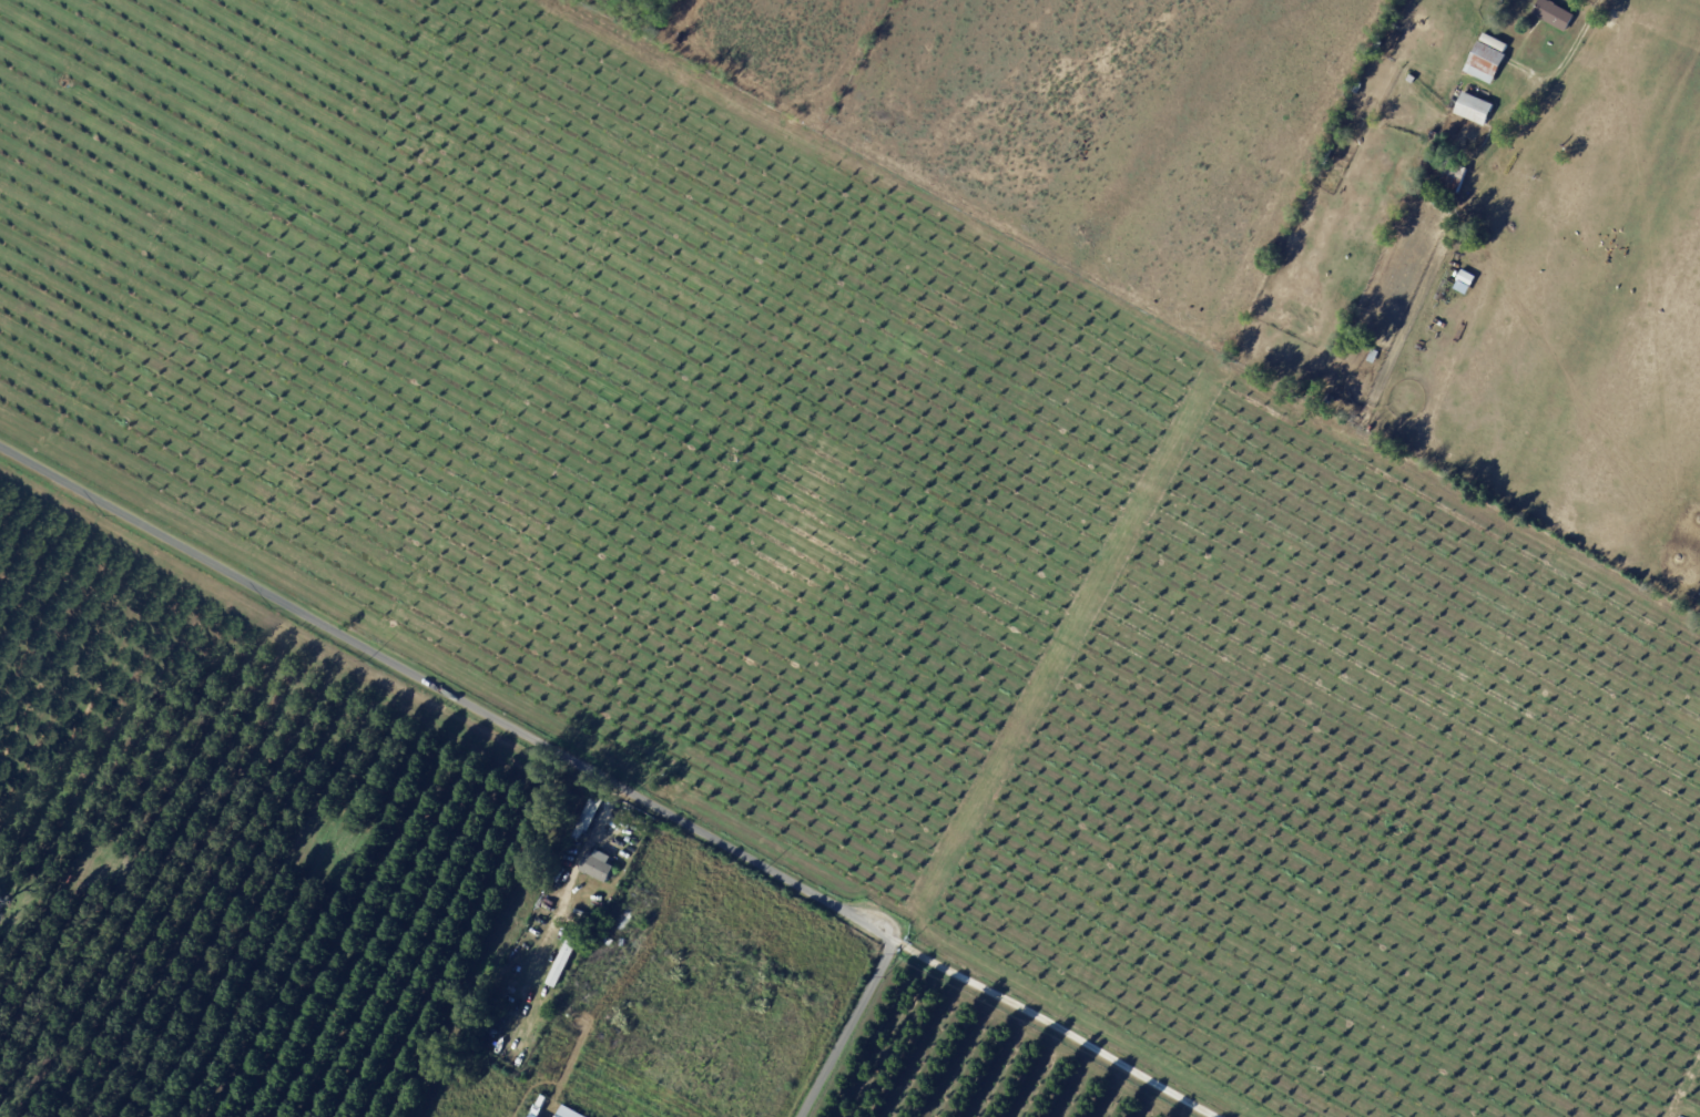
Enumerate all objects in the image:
building: (1556, 16)
building: (1497, 44)
road: (1568, 53)
building: (1486, 63)
building: (1414, 80)
building: (1475, 109)
building: (1436, 135)
building: (1329, 157)
building: (1439, 161)
building: (1455, 177)
building: (1421, 189)
building: (1468, 279)
building: (1350, 342)
building: (1375, 356)
building: (1332, 400)
crop: (869, 541)
road: (535, 738)
building: (580, 833)
building: (630, 840)
building: (599, 867)
building: (625, 918)
building: (637, 929)
building: (604, 940)
building: (623, 943)
building: (563, 963)
road: (1044, 1025)
building: (535, 1111)

